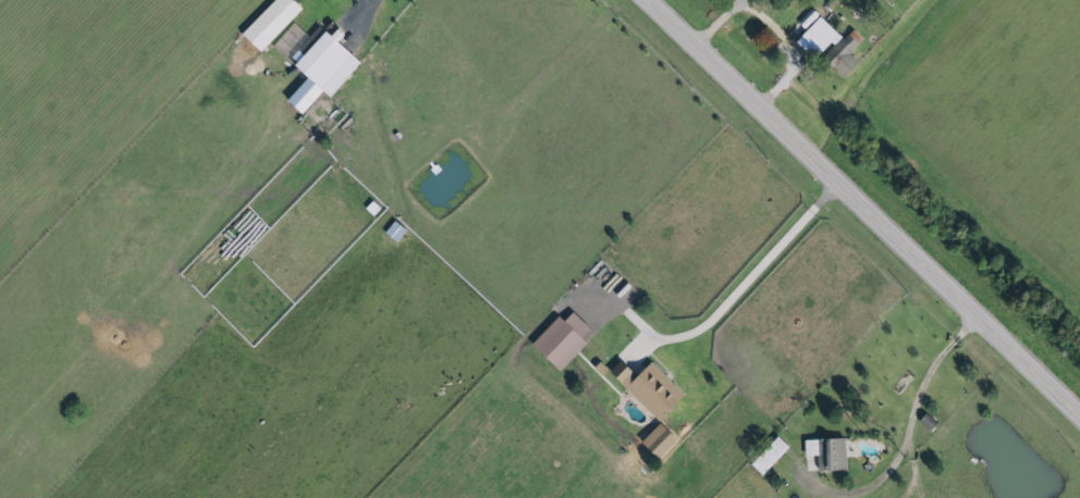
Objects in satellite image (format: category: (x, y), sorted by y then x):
road: (364, 16)
building: (267, 23)
road: (773, 24)
building: (813, 38)
building: (837, 60)
building: (317, 67)
road: (866, 206)
building: (392, 231)
road: (736, 296)
building: (557, 340)
building: (643, 388)
road: (920, 403)
building: (822, 455)
building: (765, 456)

